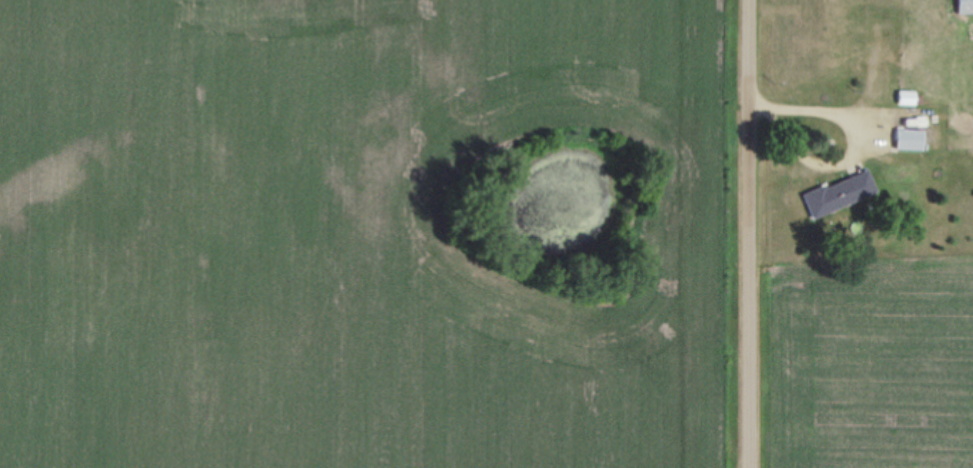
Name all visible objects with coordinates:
building: (965, 6)
building: (906, 97)
building: (972, 138)
building: (909, 139)
building: (957, 141)
building: (839, 193)
road: (750, 234)

